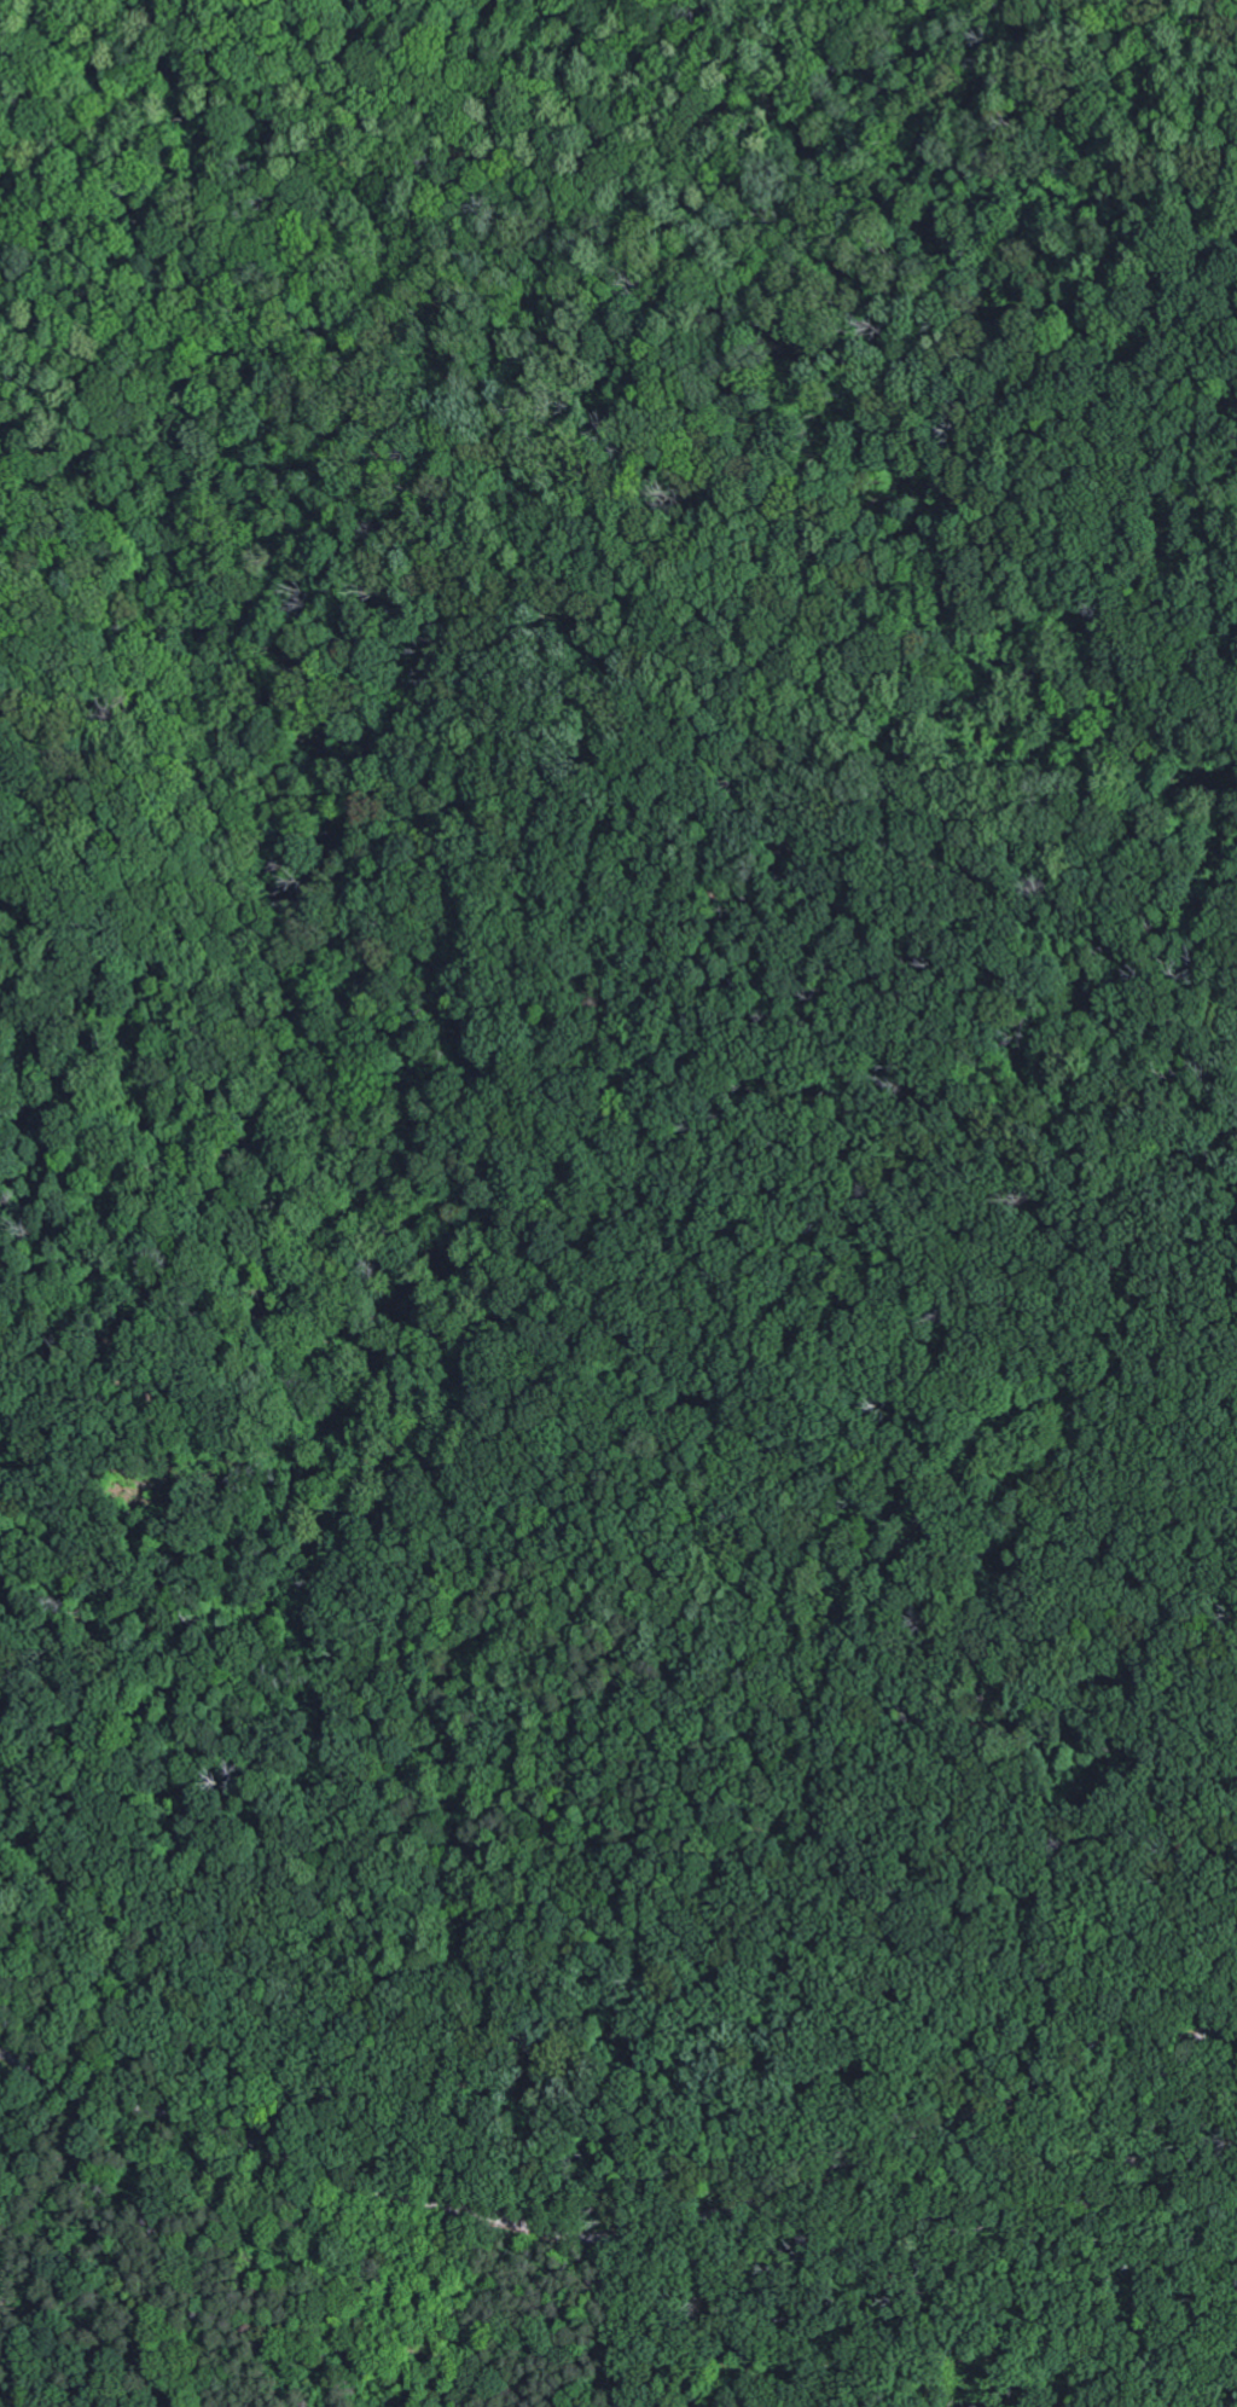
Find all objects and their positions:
road: (620, 2232)

